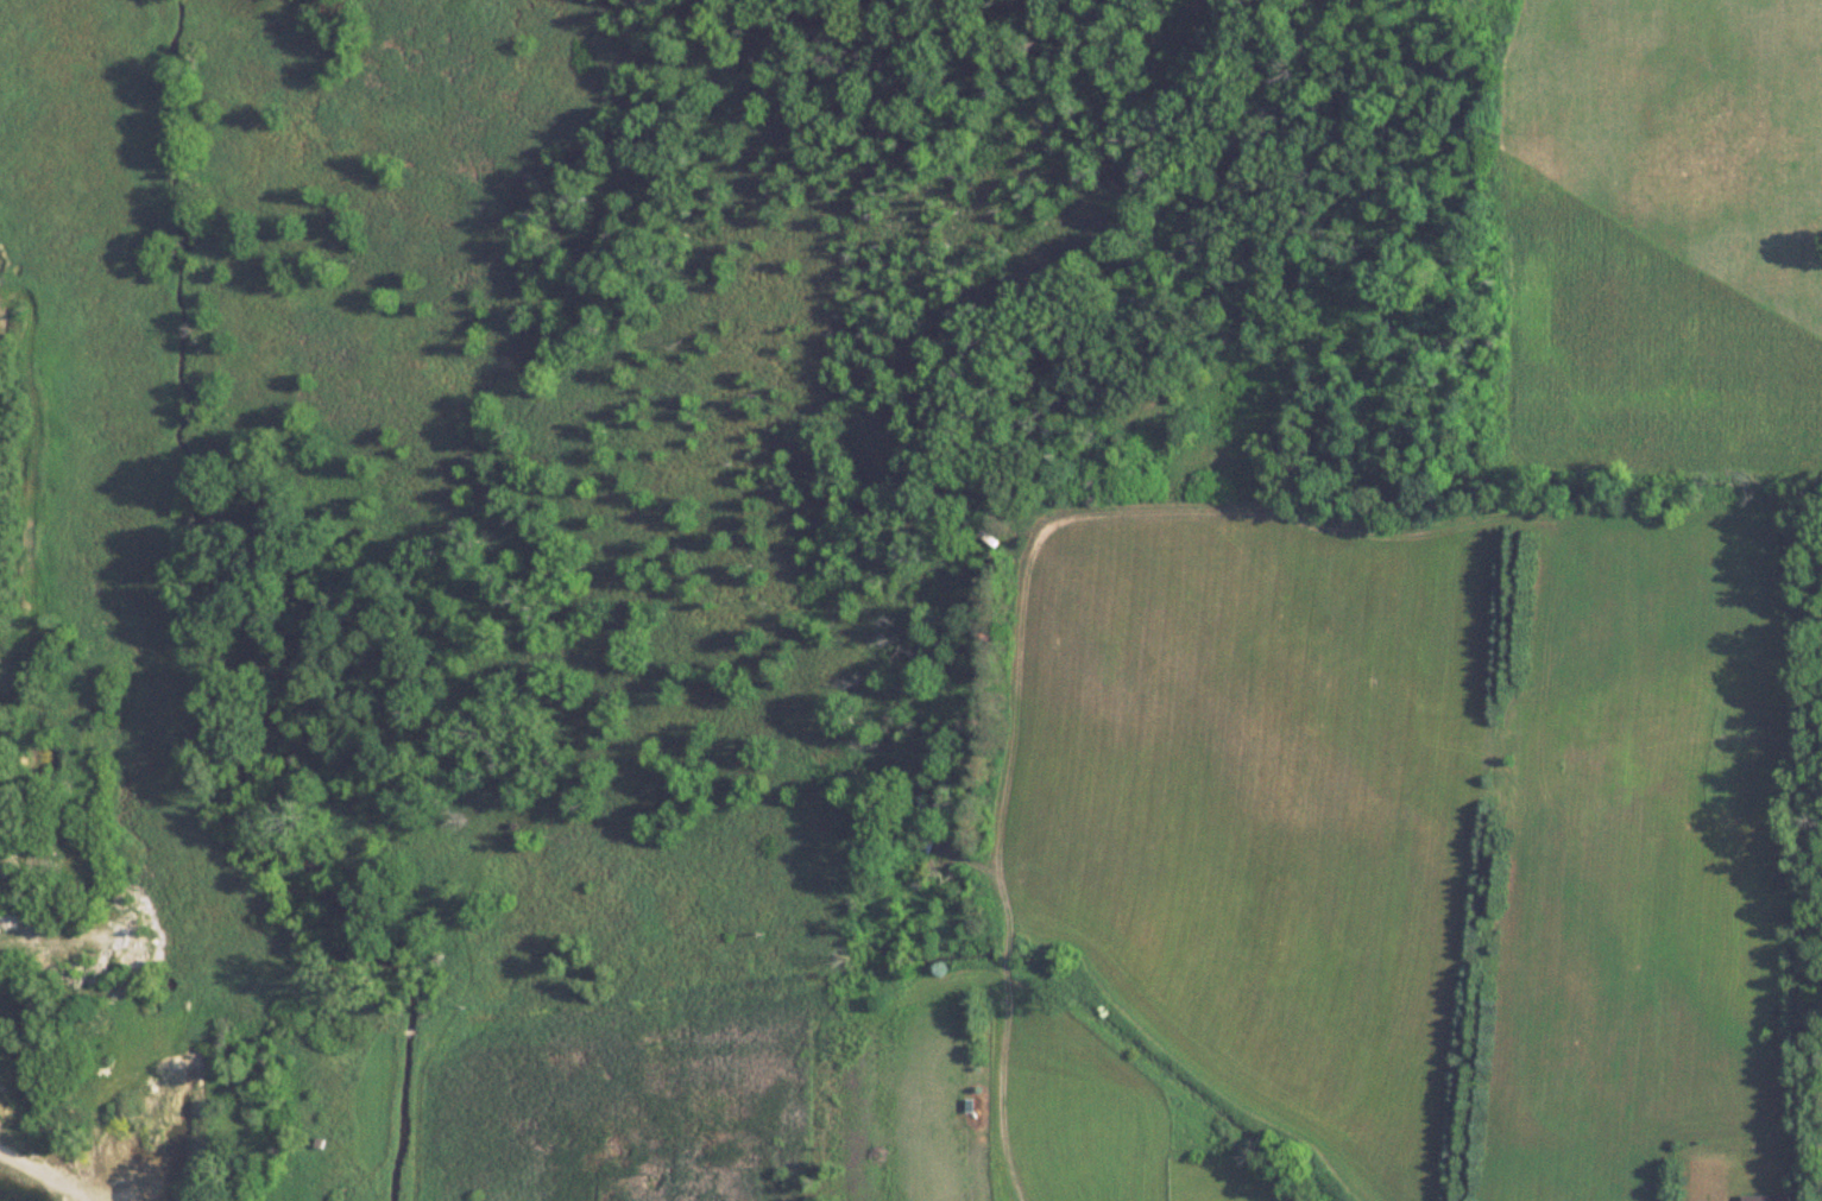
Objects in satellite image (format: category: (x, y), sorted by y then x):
crop: (1659, 239)
crop: (1252, 761)
crop: (1665, 829)
crop: (914, 1104)
crop: (1079, 1140)
building: (1767, 1196)

